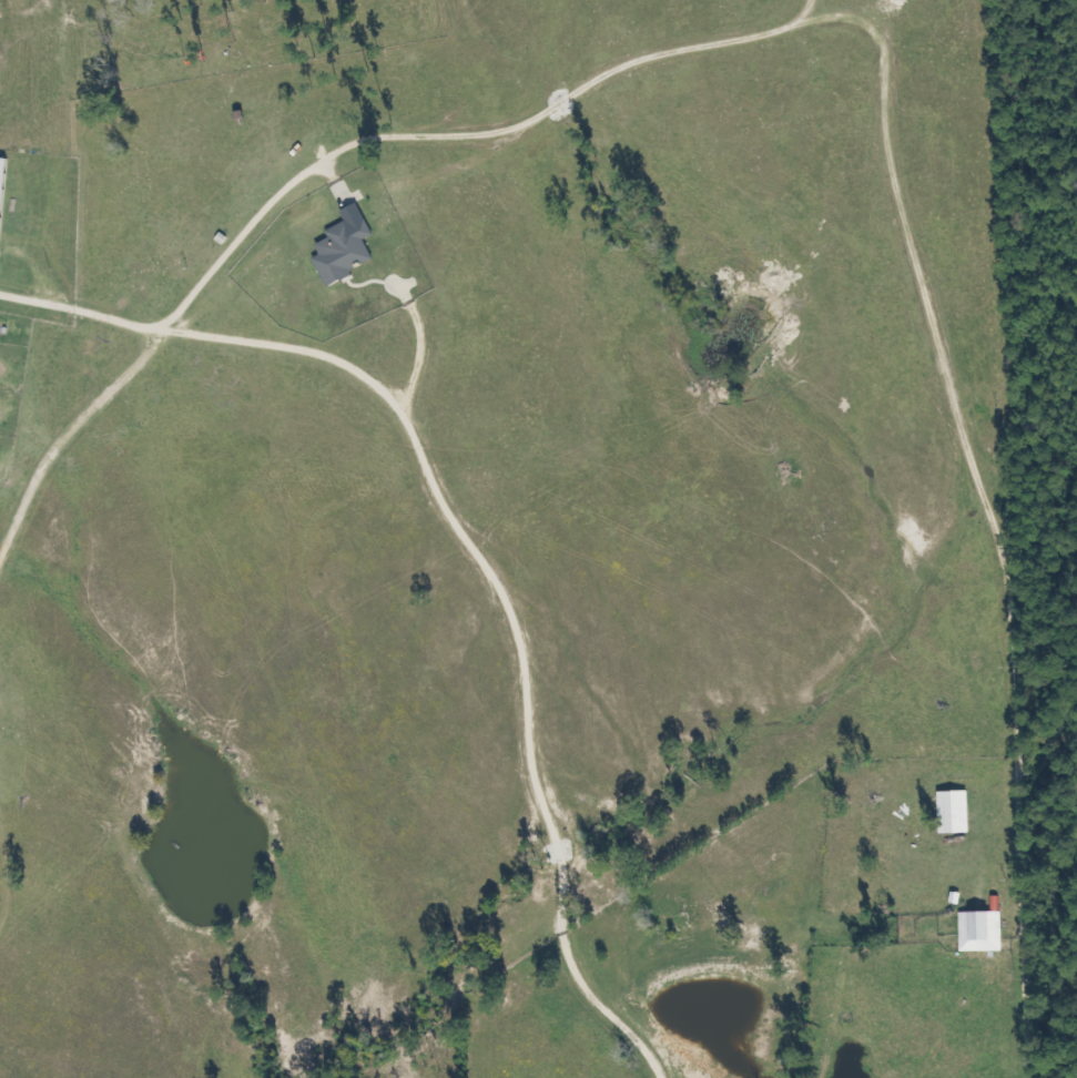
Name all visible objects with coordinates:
building: (2, 186)
road: (932, 225)
building: (949, 812)
building: (977, 930)

